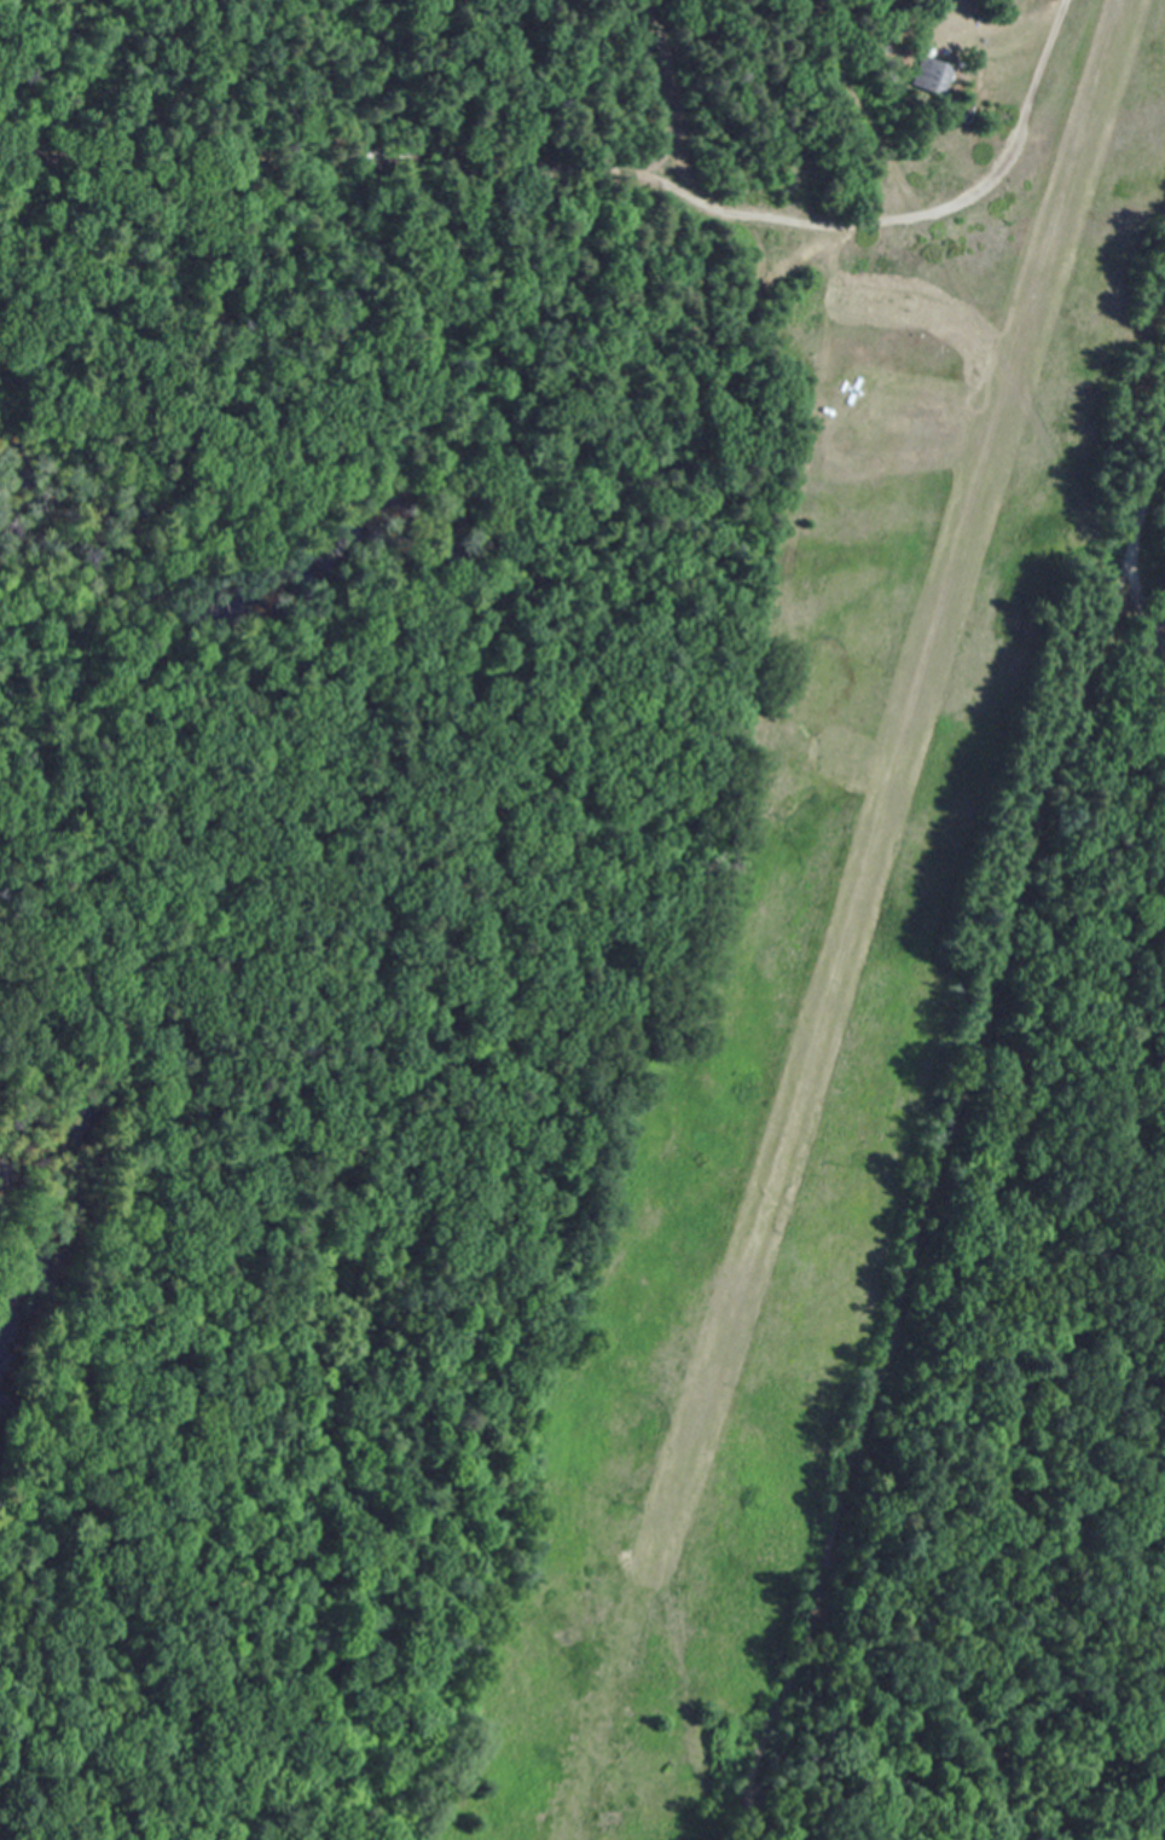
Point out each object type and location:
building: (932, 76)
road: (661, 91)
road: (381, 121)
road: (964, 189)
road: (1140, 545)
airport runway: (880, 834)
road: (360, 878)
airport: (771, 1018)
road: (950, 1148)

